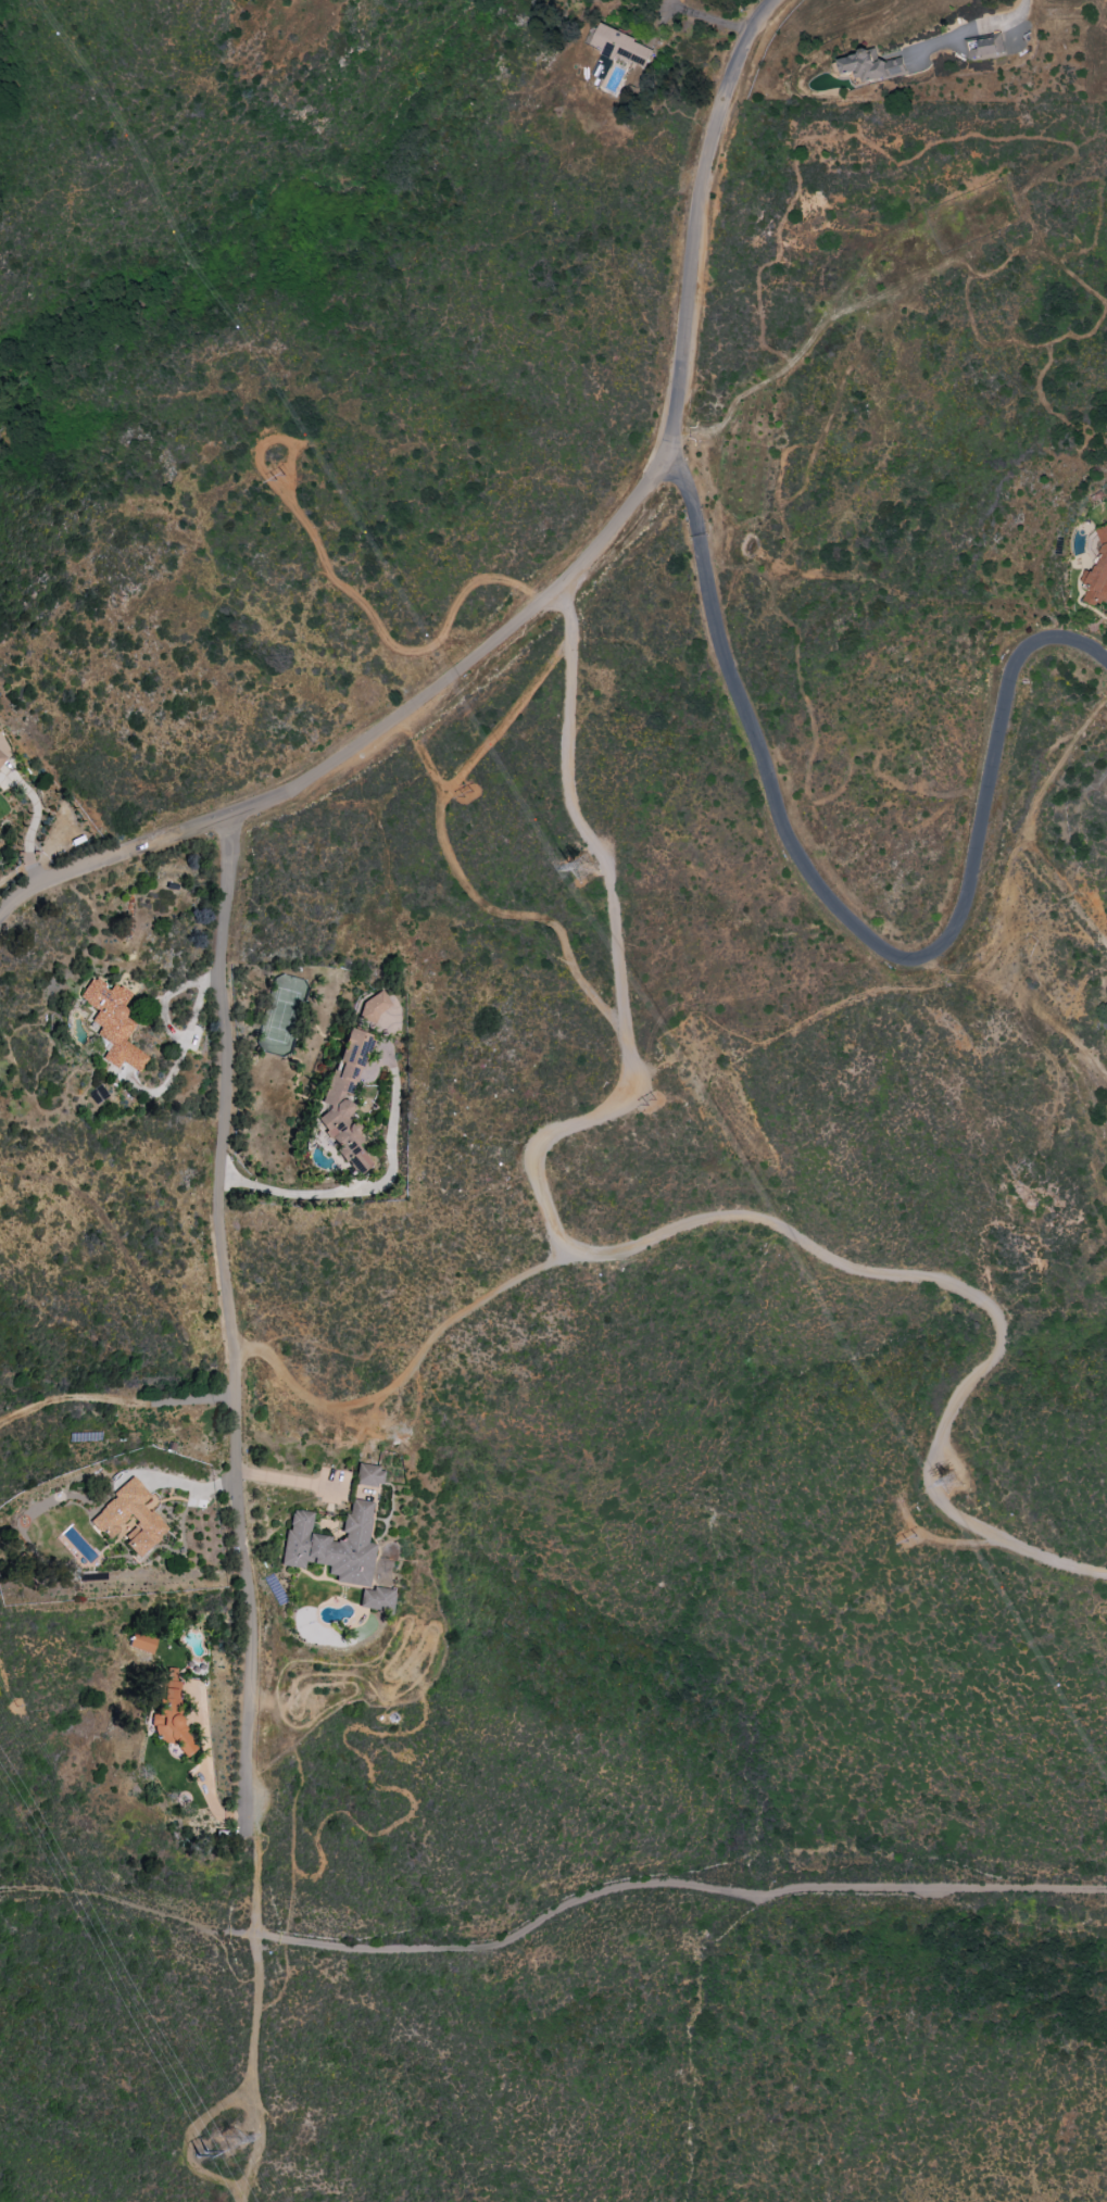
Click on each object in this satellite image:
road: (705, 16)
road: (969, 30)
building: (621, 47)
building: (980, 47)
building: (868, 66)
road: (1001, 136)
road: (707, 210)
road: (981, 274)
road: (757, 280)
road: (1015, 343)
power tower: (278, 473)
road: (776, 571)
building: (1098, 574)
road: (390, 643)
road: (505, 721)
road: (382, 737)
building: (2, 758)
power tower: (468, 795)
road: (29, 840)
road: (1016, 848)
power tower: (588, 864)
road: (503, 911)
road: (843, 913)
road: (165, 1003)
building: (372, 1008)
road: (1047, 1017)
road: (805, 1022)
building: (113, 1024)
road: (183, 1052)
building: (344, 1102)
power tower: (651, 1103)
road: (357, 1194)
road: (629, 1248)
road: (411, 1370)
road: (240, 1377)
road: (121, 1398)
building: (368, 1476)
road: (289, 1482)
power tower: (952, 1485)
building: (109, 1520)
power tower: (910, 1536)
building: (334, 1546)
building: (376, 1600)
building: (142, 1644)
road: (678, 1885)
road: (133, 1908)
road: (259, 2069)
power tower: (229, 2141)
power tower: (198, 2148)

